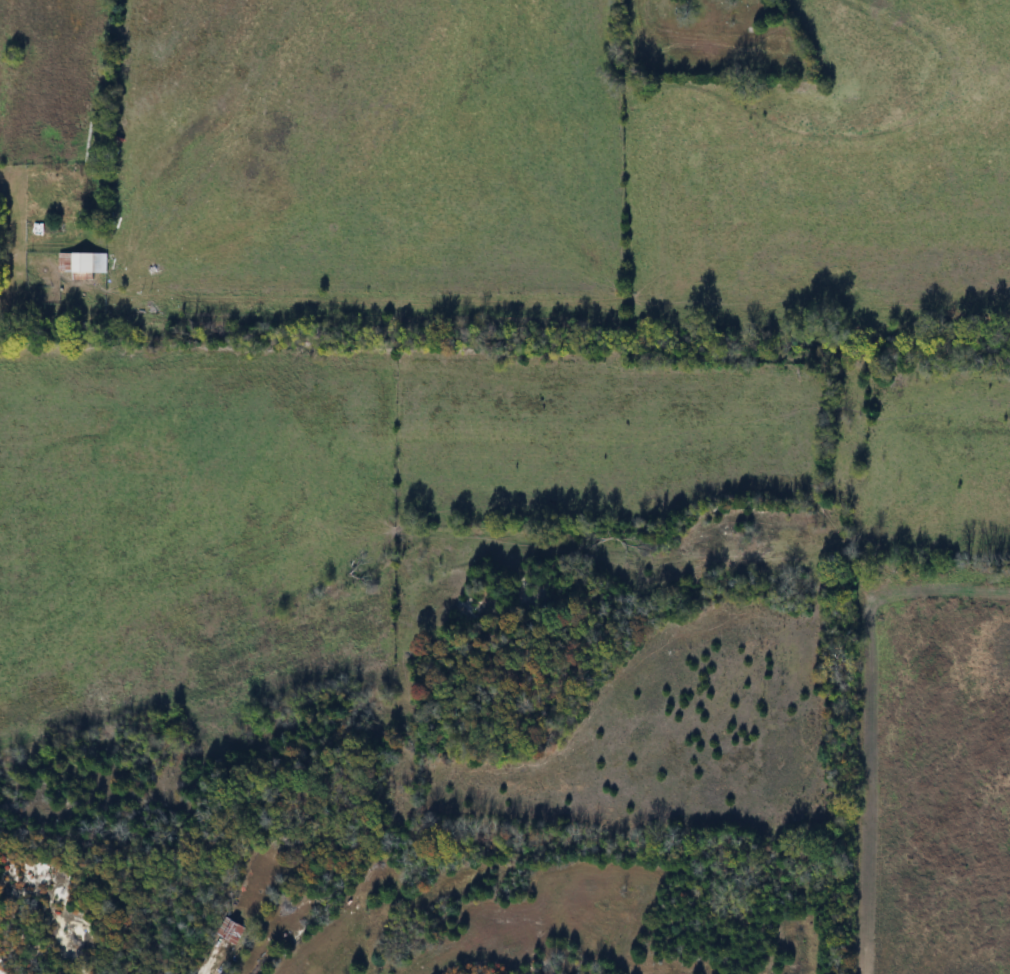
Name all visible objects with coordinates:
park: (713, 43)
building: (81, 265)
building: (232, 931)

